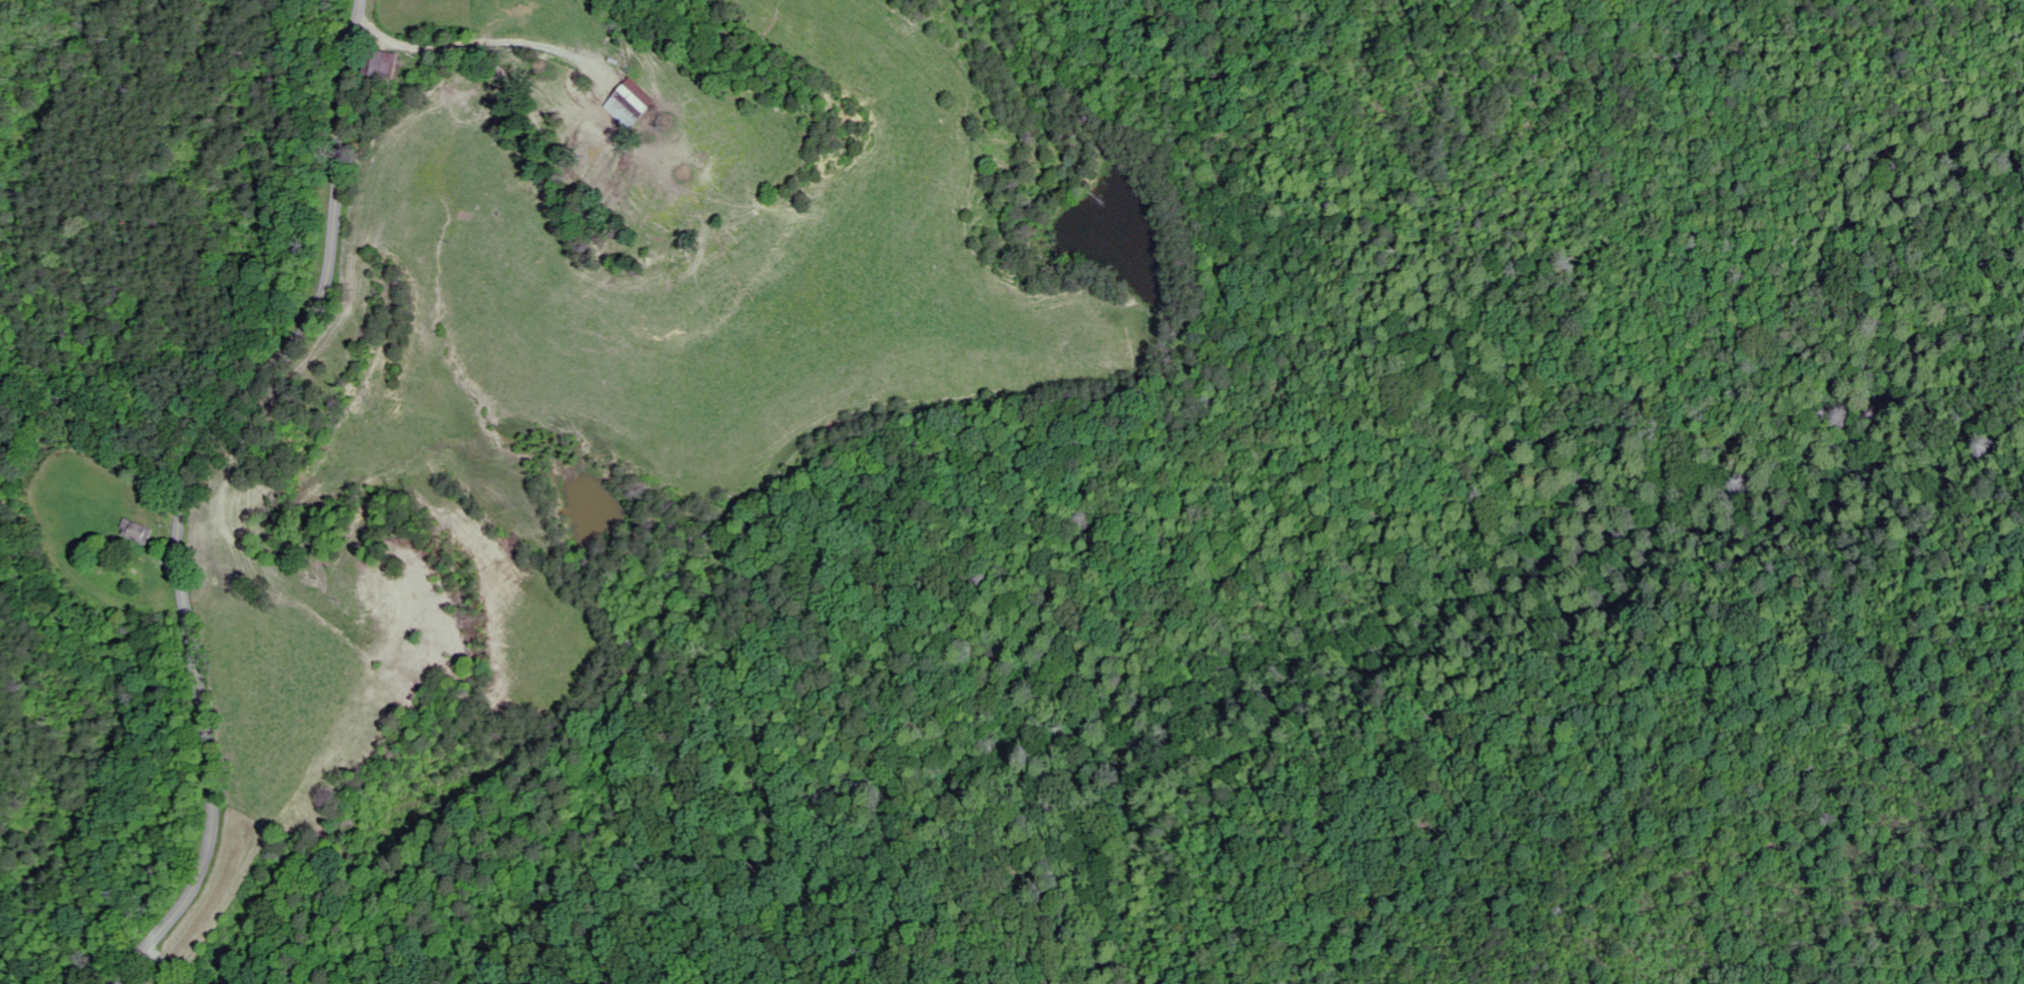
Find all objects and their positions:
building: (633, 106)
road: (190, 486)
building: (139, 532)

